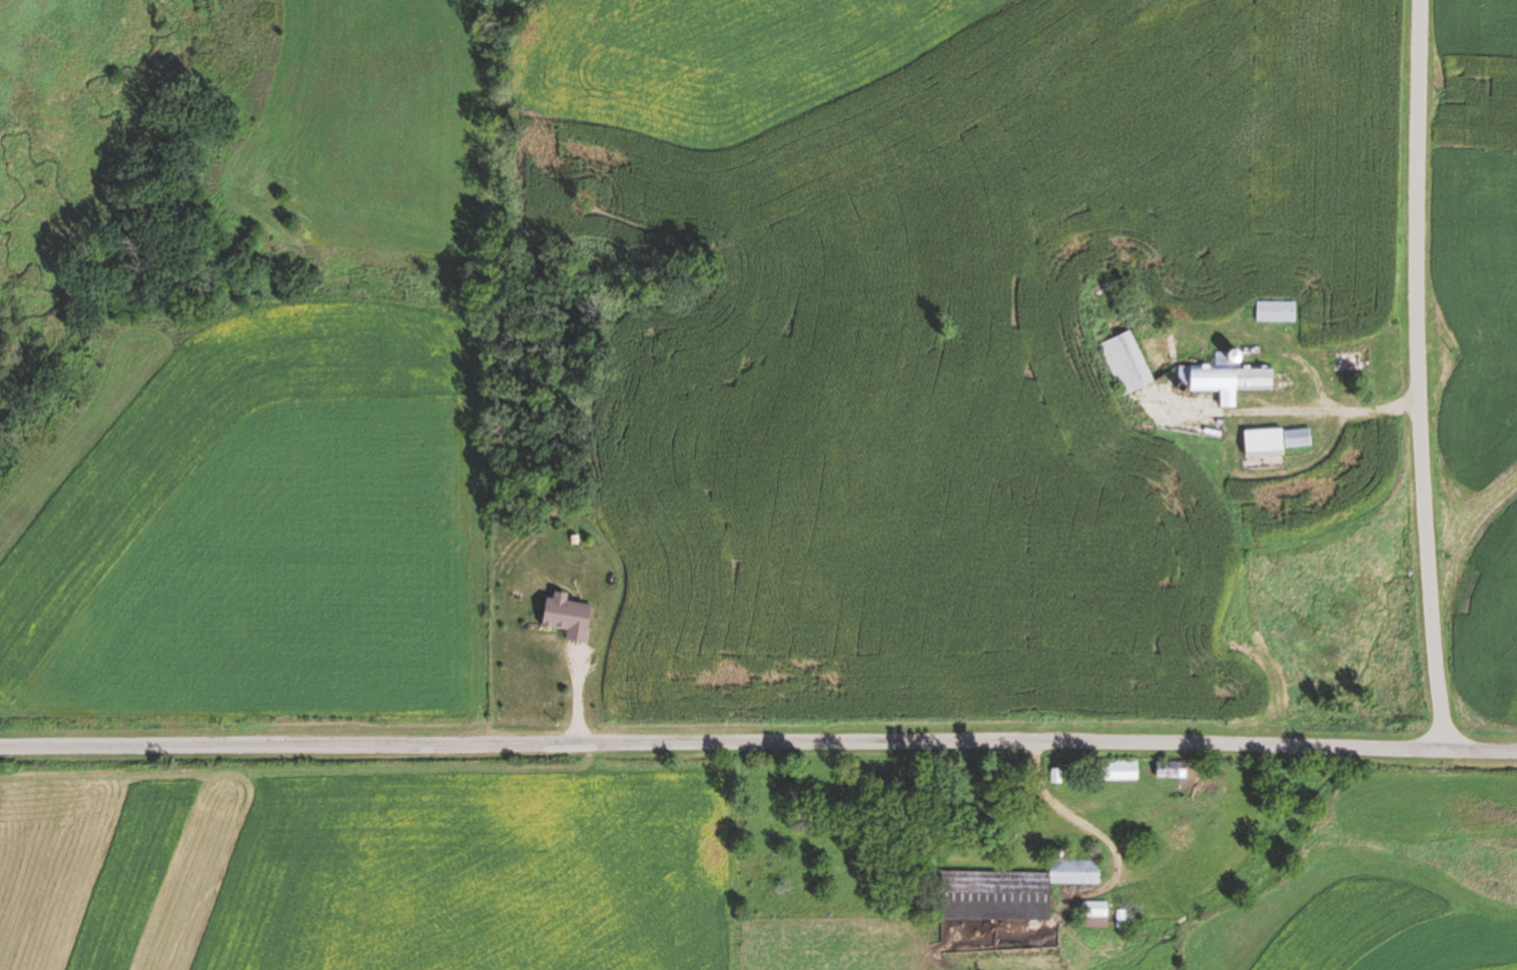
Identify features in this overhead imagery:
building: (1275, 310)
building: (1348, 359)
building: (1127, 362)
road: (1423, 374)
building: (1240, 380)
building: (1297, 437)
building: (1263, 442)
road: (758, 738)
building: (1170, 769)
building: (1116, 770)
building: (1008, 891)
building: (1093, 909)

